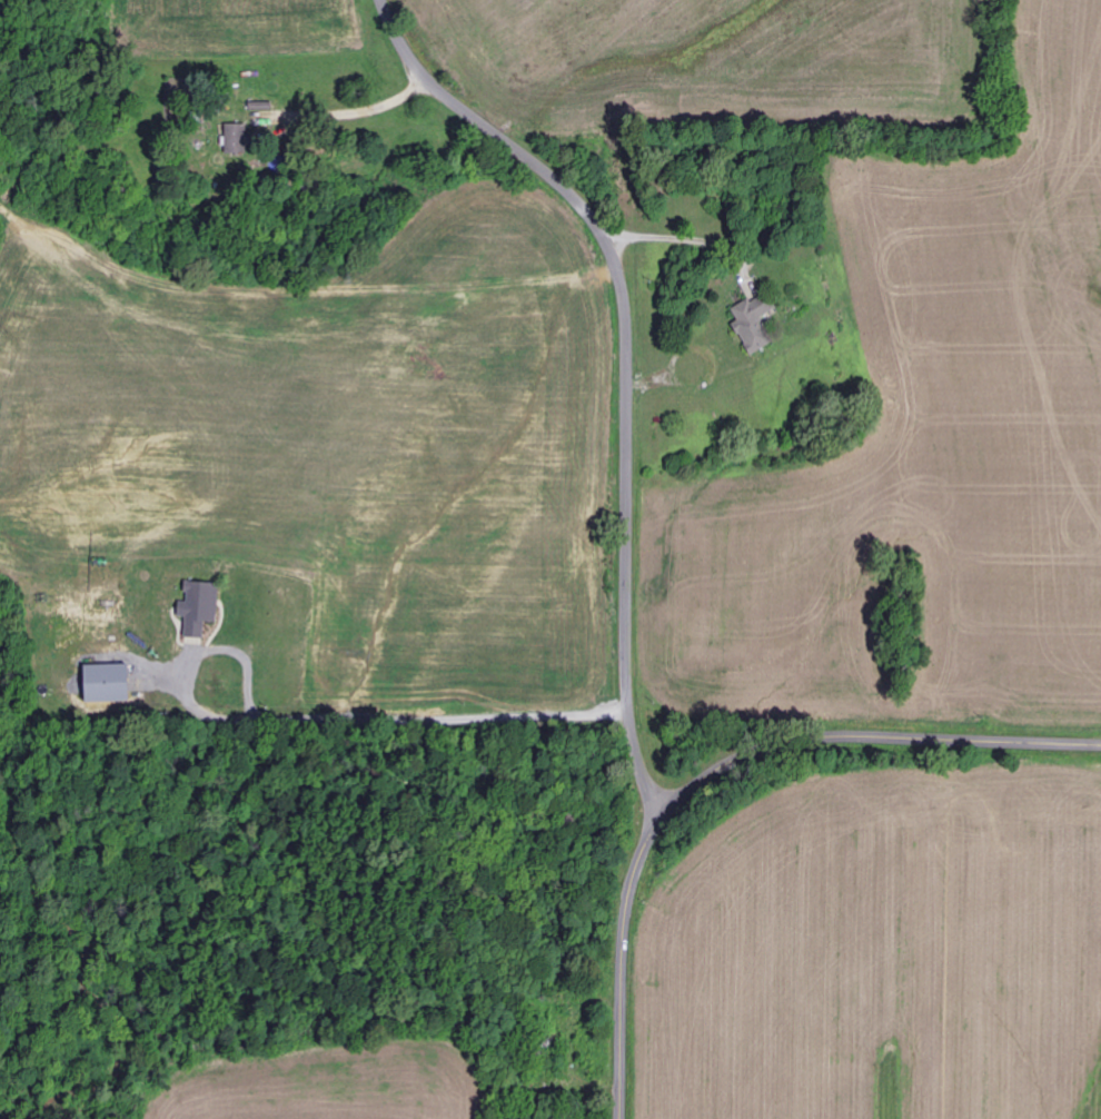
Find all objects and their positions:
building: (239, 139)
building: (755, 323)
road: (629, 364)
building: (201, 607)
building: (110, 683)
road: (721, 766)

